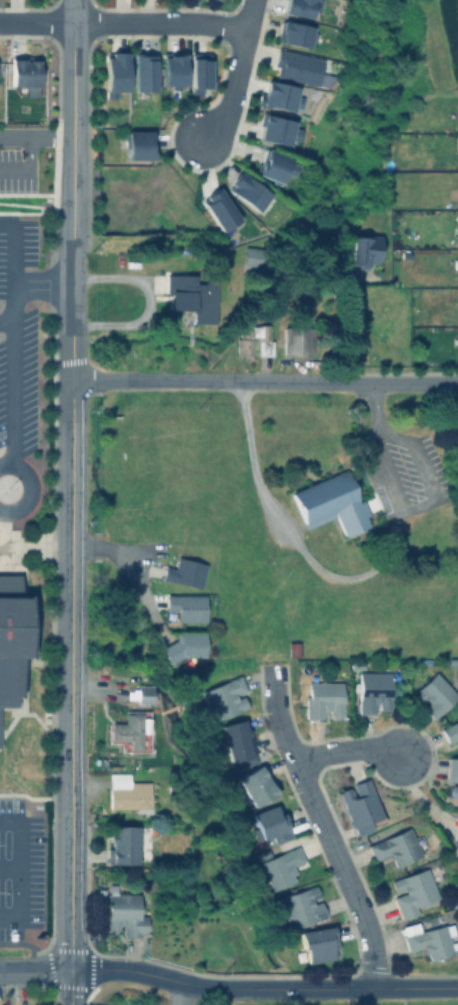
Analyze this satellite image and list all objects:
building: (300, 6)
road: (36, 23)
road: (120, 25)
road: (207, 26)
building: (294, 33)
building: (297, 66)
building: (171, 68)
building: (142, 69)
building: (113, 71)
building: (197, 71)
building: (23, 72)
road: (235, 72)
building: (278, 95)
building: (276, 129)
road: (35, 136)
building: (456, 141)
building: (138, 143)
road: (28, 164)
building: (274, 166)
building: (250, 191)
building: (456, 193)
building: (457, 204)
building: (218, 209)
building: (455, 231)
parking lot: (19, 246)
building: (363, 249)
road: (13, 250)
building: (251, 255)
building: (325, 264)
building: (456, 272)
building: (457, 296)
building: (192, 297)
road: (146, 303)
building: (457, 306)
road: (6, 324)
building: (256, 334)
building: (296, 339)
building: (457, 341)
road: (12, 344)
road: (209, 383)
road: (403, 385)
parking lot: (19, 388)
road: (70, 482)
road: (34, 489)
building: (330, 504)
road: (129, 570)
building: (184, 572)
road: (339, 578)
building: (185, 606)
building: (11, 636)
building: (185, 647)
building: (293, 647)
building: (356, 665)
building: (375, 687)
building: (145, 694)
building: (433, 695)
building: (224, 697)
building: (322, 697)
building: (131, 731)
building: (450, 731)
building: (235, 743)
road: (350, 751)
building: (452, 777)
building: (254, 786)
building: (127, 790)
building: (359, 807)
building: (268, 825)
road: (325, 826)
building: (121, 843)
building: (398, 846)
building: (457, 846)
building: (263, 853)
building: (280, 866)
road: (8, 867)
parking lot: (21, 869)
road: (17, 870)
building: (415, 888)
building: (302, 905)
building: (123, 912)
building: (429, 921)
building: (428, 939)
building: (317, 943)
road: (34, 969)
road: (67, 985)
road: (221, 989)
road: (418, 990)
park: (181, 998)

